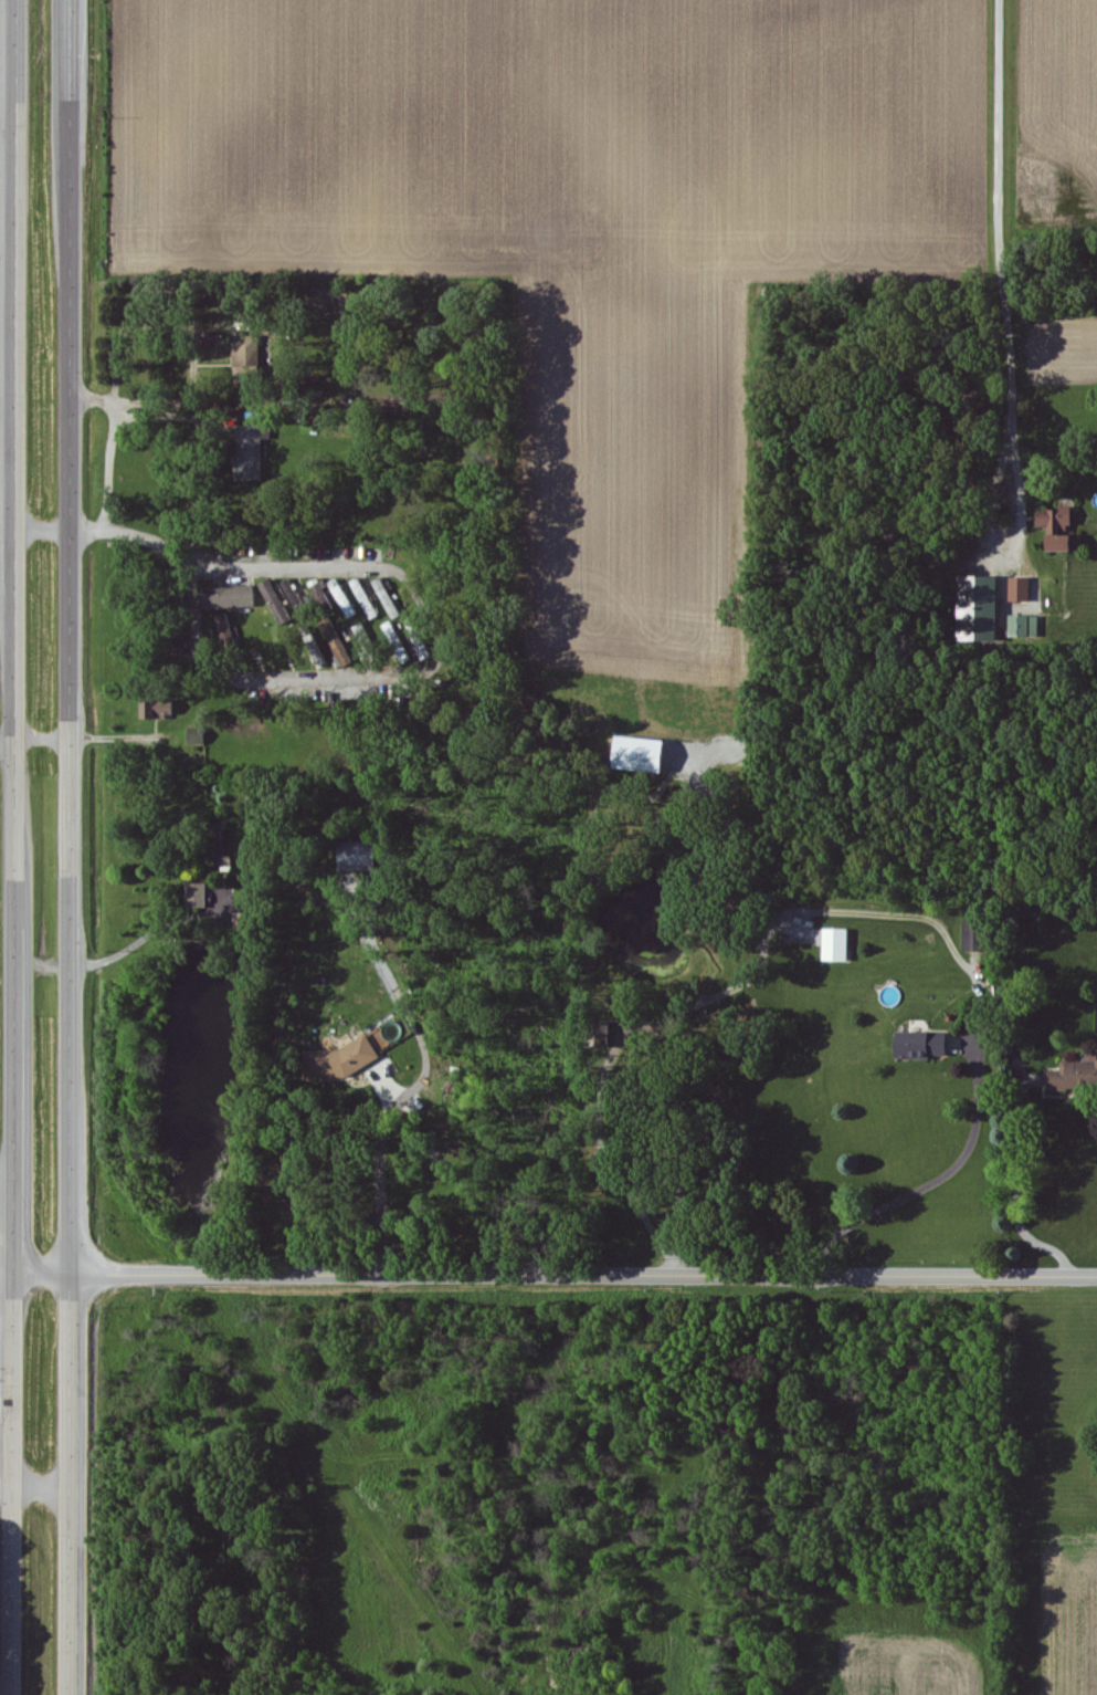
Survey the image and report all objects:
road: (1006, 278)
road: (188, 333)
building: (253, 353)
road: (168, 416)
building: (259, 448)
road: (107, 453)
building: (1062, 521)
building: (1072, 545)
building: (1026, 592)
road: (413, 595)
building: (234, 599)
building: (348, 600)
building: (370, 600)
building: (392, 600)
building: (289, 605)
building: (987, 611)
building: (1030, 628)
building: (229, 629)
building: (397, 634)
building: (367, 640)
building: (424, 640)
building: (342, 648)
building: (165, 711)
building: (202, 737)
road: (15, 740)
road: (82, 742)
road: (8, 746)
building: (651, 757)
building: (366, 860)
building: (202, 898)
road: (151, 929)
building: (981, 938)
building: (843, 948)
road: (50, 961)
building: (930, 1047)
building: (347, 1060)
building: (1077, 1078)
road: (1012, 1178)
road: (381, 1183)
road: (939, 1184)
road: (8, 1262)
road: (556, 1272)
road: (42, 1482)
road: (13, 1588)
road: (84, 1590)

